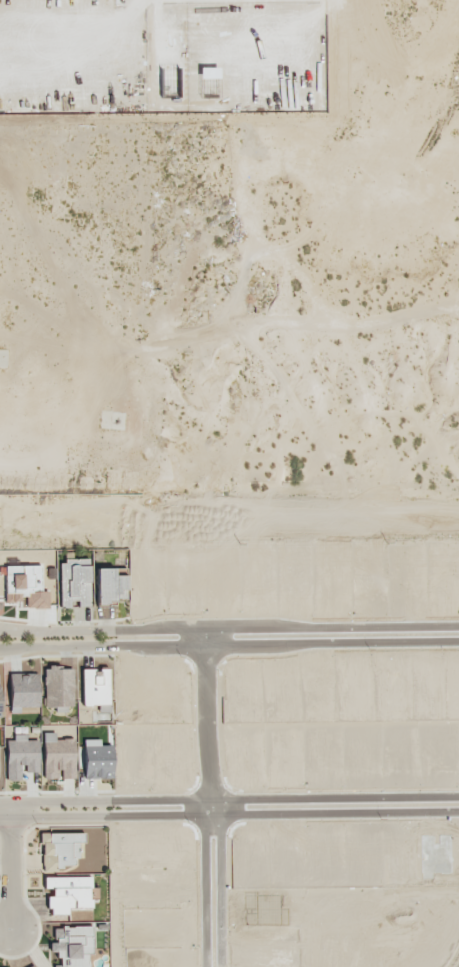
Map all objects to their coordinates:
building: (74, 582)
building: (108, 586)
road: (229, 633)
road: (229, 652)
building: (58, 687)
building: (95, 687)
building: (23, 691)
road: (204, 727)
building: (21, 756)
building: (58, 757)
building: (97, 760)
road: (229, 803)
road: (229, 820)
road: (209, 821)
building: (60, 850)
road: (9, 870)
building: (72, 946)

